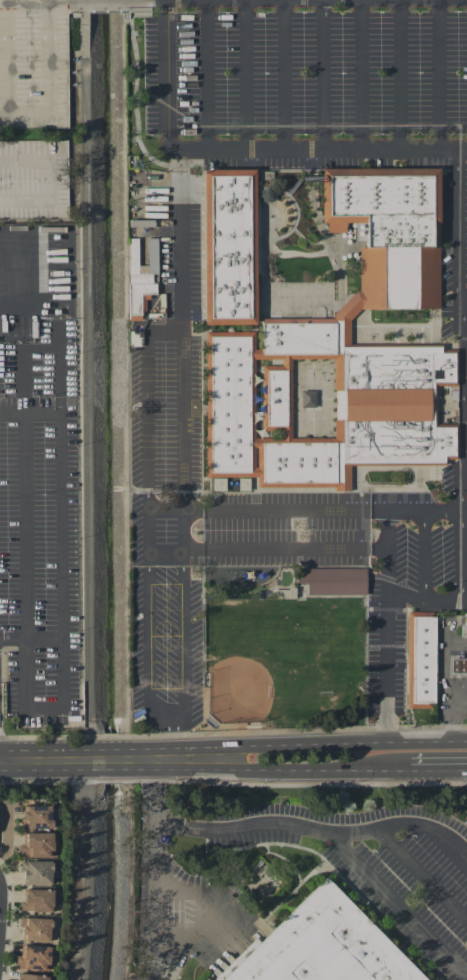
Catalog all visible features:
road: (117, 0)
road: (36, 1)
road: (209, 76)
road: (244, 76)
road: (285, 76)
road: (320, 76)
road: (360, 76)
road: (400, 76)
road: (440, 76)
building: (57, 109)
road: (25, 112)
road: (242, 153)
road: (50, 182)
road: (178, 241)
building: (232, 248)
building: (140, 277)
road: (463, 303)
parking lot: (299, 325)
road: (164, 329)
building: (340, 359)
road: (460, 377)
road: (463, 407)
building: (218, 483)
road: (426, 510)
road: (306, 512)
road: (59, 527)
road: (265, 550)
road: (424, 557)
building: (332, 580)
road: (387, 603)
road: (464, 603)
road: (26, 614)
building: (465, 619)
park: (274, 655)
building: (420, 659)
building: (458, 665)
road: (161, 716)
road: (452, 717)
road: (171, 731)
road: (310, 744)
road: (118, 748)
road: (41, 749)
road: (153, 759)
road: (439, 769)
road: (282, 770)
road: (117, 771)
road: (41, 772)
road: (151, 801)
building: (36, 817)
road: (312, 832)
building: (36, 844)
building: (36, 872)
road: (426, 875)
building: (37, 900)
road: (398, 905)
road: (152, 906)
road: (189, 915)
road: (3, 919)
building: (35, 929)
building: (327, 947)
building: (33, 957)
building: (30, 977)
building: (205, 979)

